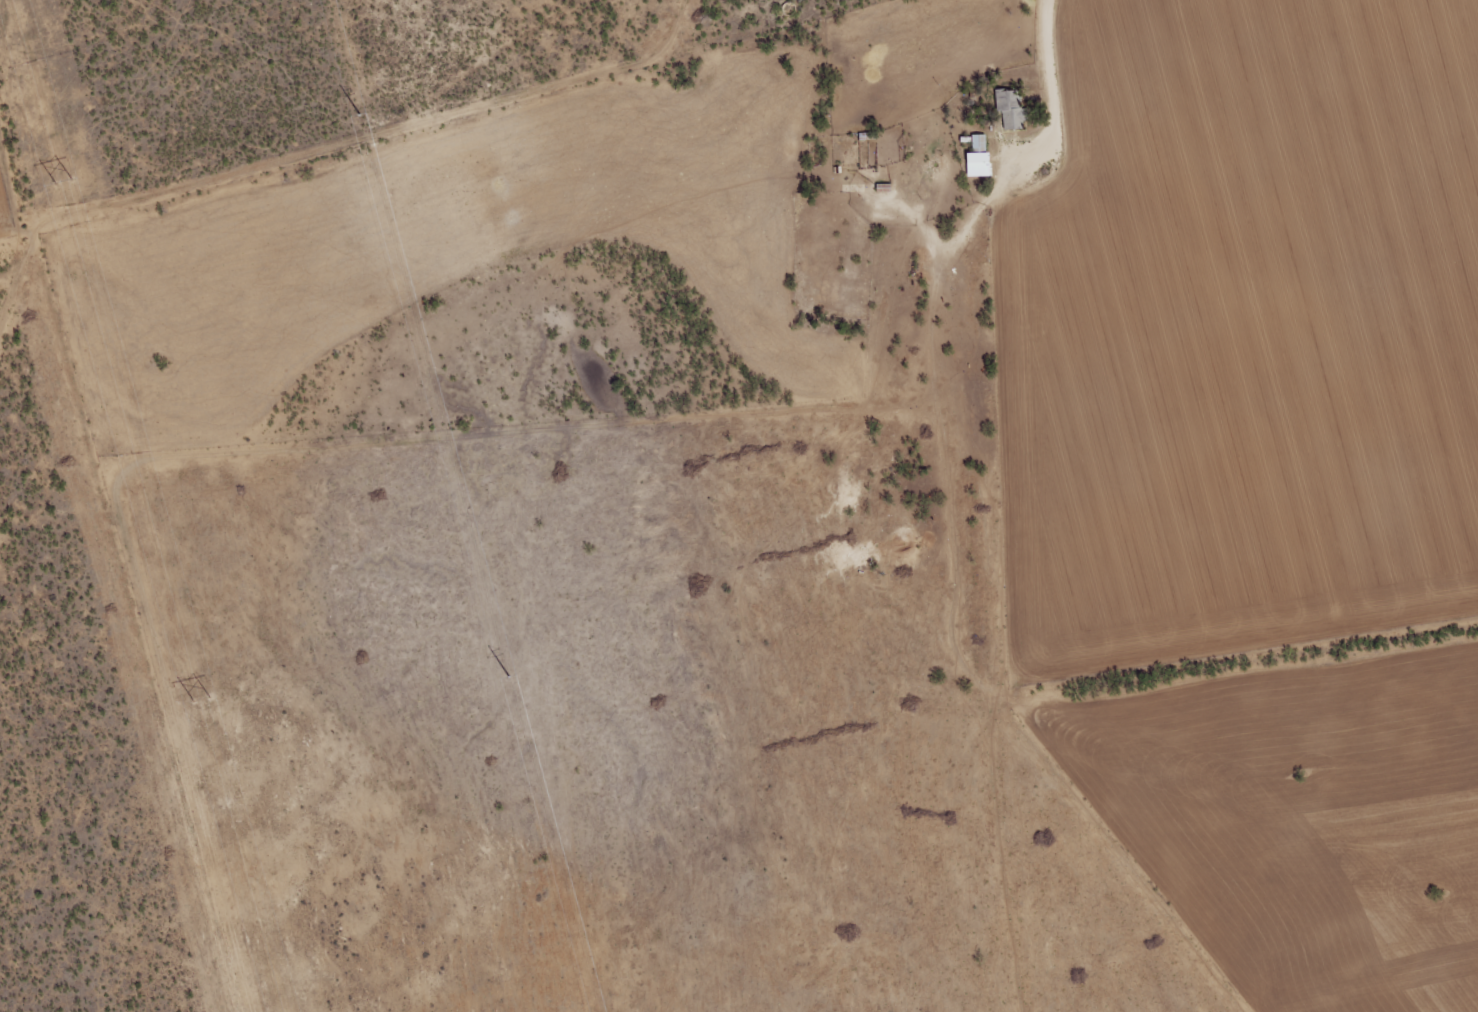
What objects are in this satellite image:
road: (1060, 62)
building: (1009, 108)
power tower: (359, 114)
building: (977, 148)
power tower: (68, 181)
building: (921, 267)
road: (31, 358)
road: (195, 580)
power tower: (508, 676)
power tower: (204, 698)

